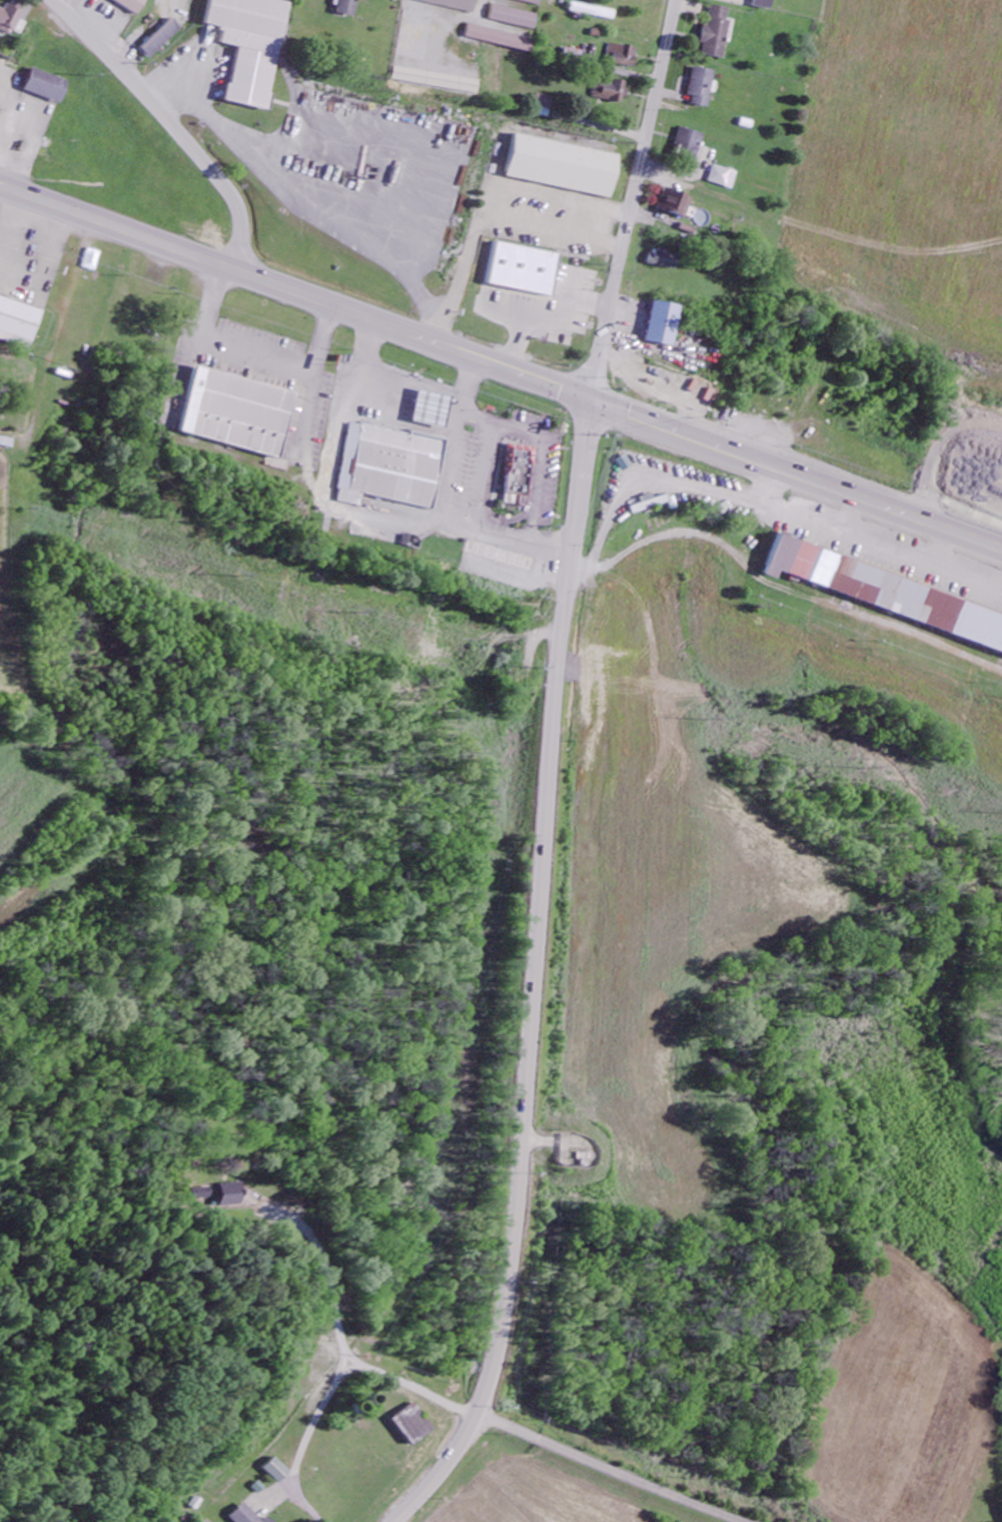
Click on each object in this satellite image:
building: (530, 2)
building: (452, 4)
building: (764, 4)
building: (131, 5)
building: (347, 8)
building: (593, 12)
road: (449, 16)
building: (10, 19)
building: (514, 19)
building: (718, 34)
building: (161, 40)
building: (500, 40)
building: (251, 46)
building: (621, 56)
building: (435, 82)
building: (47, 87)
building: (702, 88)
building: (610, 92)
building: (543, 102)
road: (168, 125)
building: (691, 143)
building: (559, 165)
building: (725, 178)
road: (634, 199)
building: (677, 204)
building: (664, 261)
building: (526, 271)
road: (296, 292)
building: (515, 292)
building: (660, 322)
building: (19, 324)
road: (253, 354)
traffic signals: (592, 399)
building: (429, 406)
building: (233, 410)
building: (395, 464)
building: (516, 471)
road: (797, 472)
building: (650, 505)
building: (498, 554)
building: (886, 590)
road: (532, 975)
road: (336, 1291)
road: (350, 1403)
building: (418, 1424)
building: (284, 1472)
building: (250, 1516)
building: (272, 1520)

